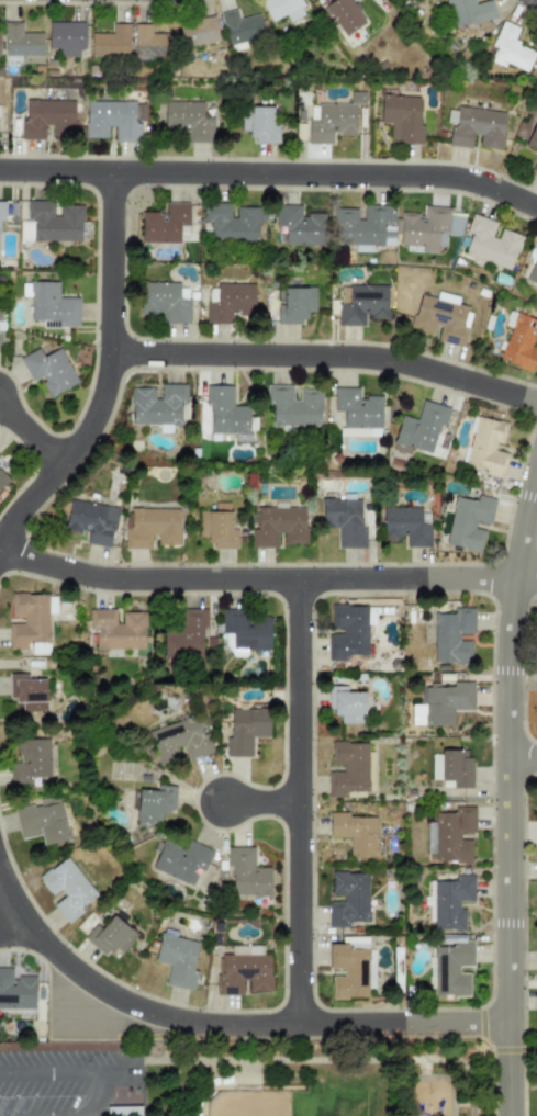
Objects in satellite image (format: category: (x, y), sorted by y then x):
building: (282, 9)
building: (469, 11)
building: (343, 14)
building: (240, 26)
building: (197, 32)
building: (66, 37)
building: (110, 41)
building: (150, 42)
building: (21, 45)
building: (510, 48)
building: (401, 117)
building: (47, 119)
building: (332, 119)
building: (113, 120)
building: (187, 120)
building: (258, 124)
building: (474, 127)
building: (532, 137)
building: (534, 165)
road: (271, 172)
building: (1, 210)
building: (54, 222)
building: (232, 222)
building: (164, 223)
building: (455, 224)
building: (299, 225)
building: (362, 227)
building: (424, 228)
building: (24, 229)
building: (490, 243)
building: (533, 271)
building: (165, 301)
building: (227, 301)
building: (49, 303)
building: (295, 304)
building: (362, 304)
building: (440, 318)
building: (0, 328)
building: (521, 341)
road: (325, 356)
building: (48, 370)
road: (105, 372)
building: (157, 406)
building: (293, 406)
building: (356, 407)
building: (419, 428)
building: (359, 431)
road: (30, 435)
building: (485, 444)
building: (2, 480)
building: (343, 520)
building: (90, 521)
building: (467, 522)
building: (405, 526)
building: (150, 527)
building: (217, 527)
building: (279, 527)
road: (267, 578)
building: (30, 619)
building: (118, 629)
building: (247, 630)
building: (347, 632)
building: (183, 634)
building: (451, 635)
building: (27, 692)
building: (346, 704)
building: (245, 729)
building: (179, 740)
road: (522, 758)
building: (30, 760)
building: (451, 767)
building: (347, 768)
road: (507, 790)
road: (260, 801)
road: (298, 801)
building: (154, 802)
building: (42, 821)
building: (355, 832)
building: (450, 834)
building: (180, 860)
building: (246, 872)
building: (66, 888)
building: (347, 899)
building: (451, 902)
road: (9, 914)
building: (110, 936)
building: (177, 960)
building: (348, 968)
building: (449, 969)
building: (243, 970)
building: (15, 990)
road: (223, 1025)
road: (55, 1072)
park: (346, 1080)
road: (90, 1111)
building: (123, 1111)

